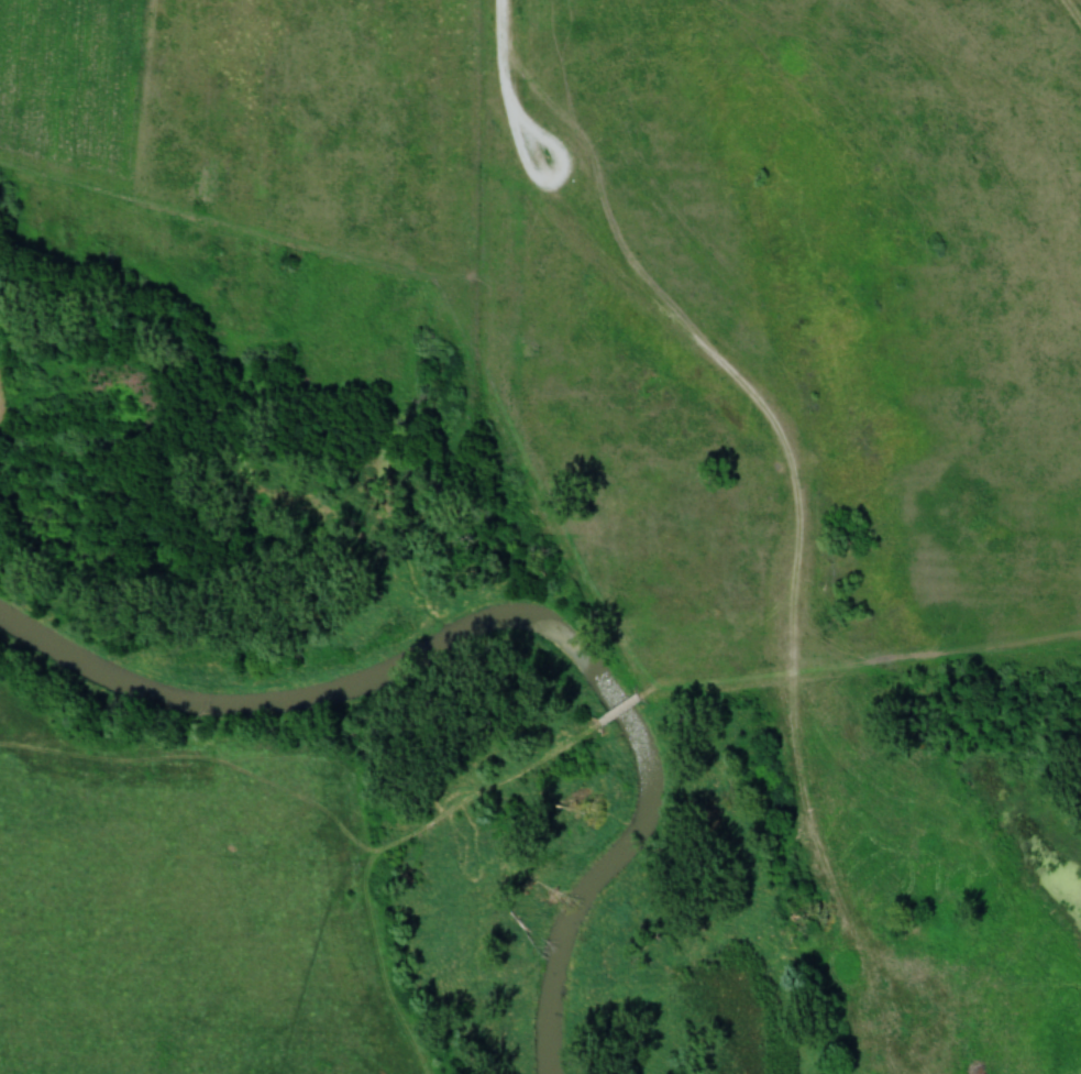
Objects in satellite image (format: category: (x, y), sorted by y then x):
road: (504, 79)
road: (743, 382)
river: (510, 621)
road: (861, 665)
road: (626, 705)
road: (400, 848)

